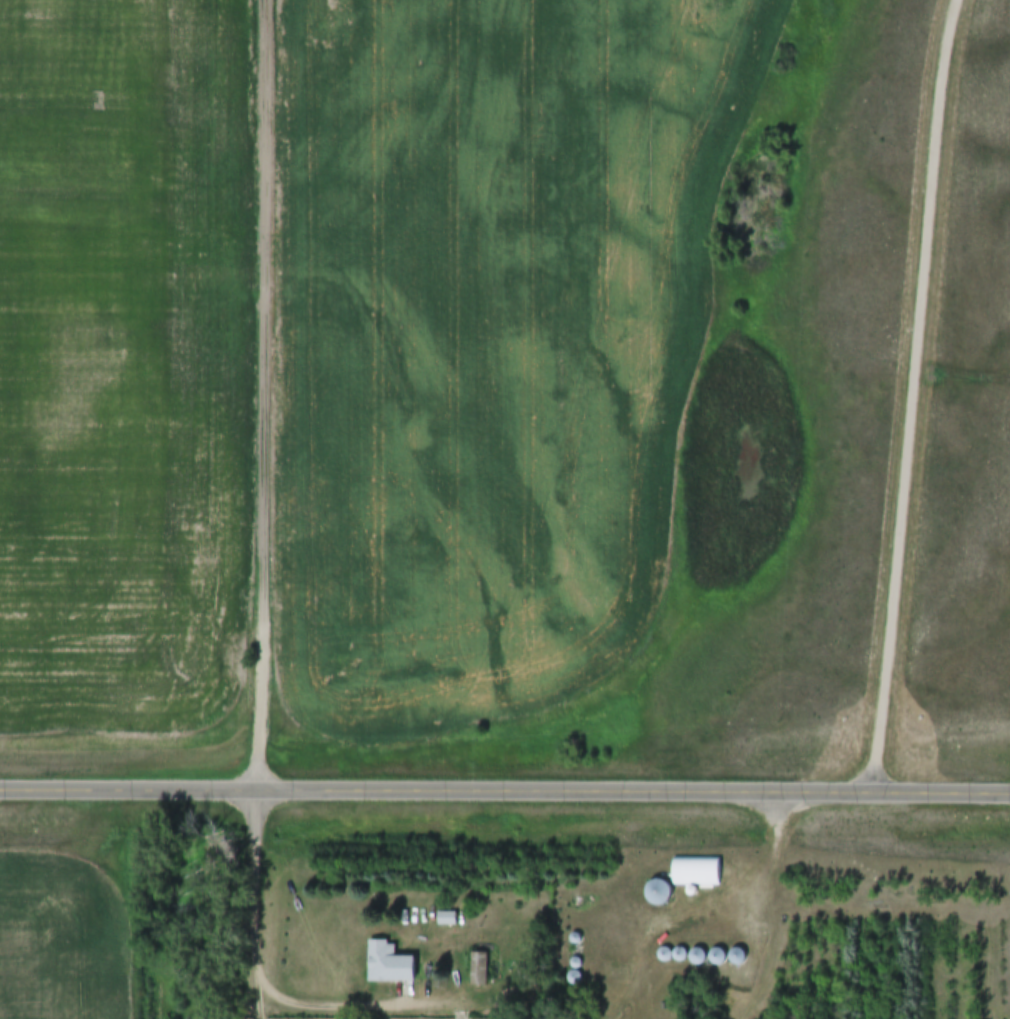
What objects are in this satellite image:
road: (265, 394)
road: (911, 395)
road: (505, 788)
building: (699, 870)
building: (662, 892)
road: (763, 904)
building: (450, 918)
building: (576, 939)
building: (393, 963)
building: (481, 968)
road: (256, 971)
building: (577, 979)
road: (259, 1004)
building: (465, 1015)

